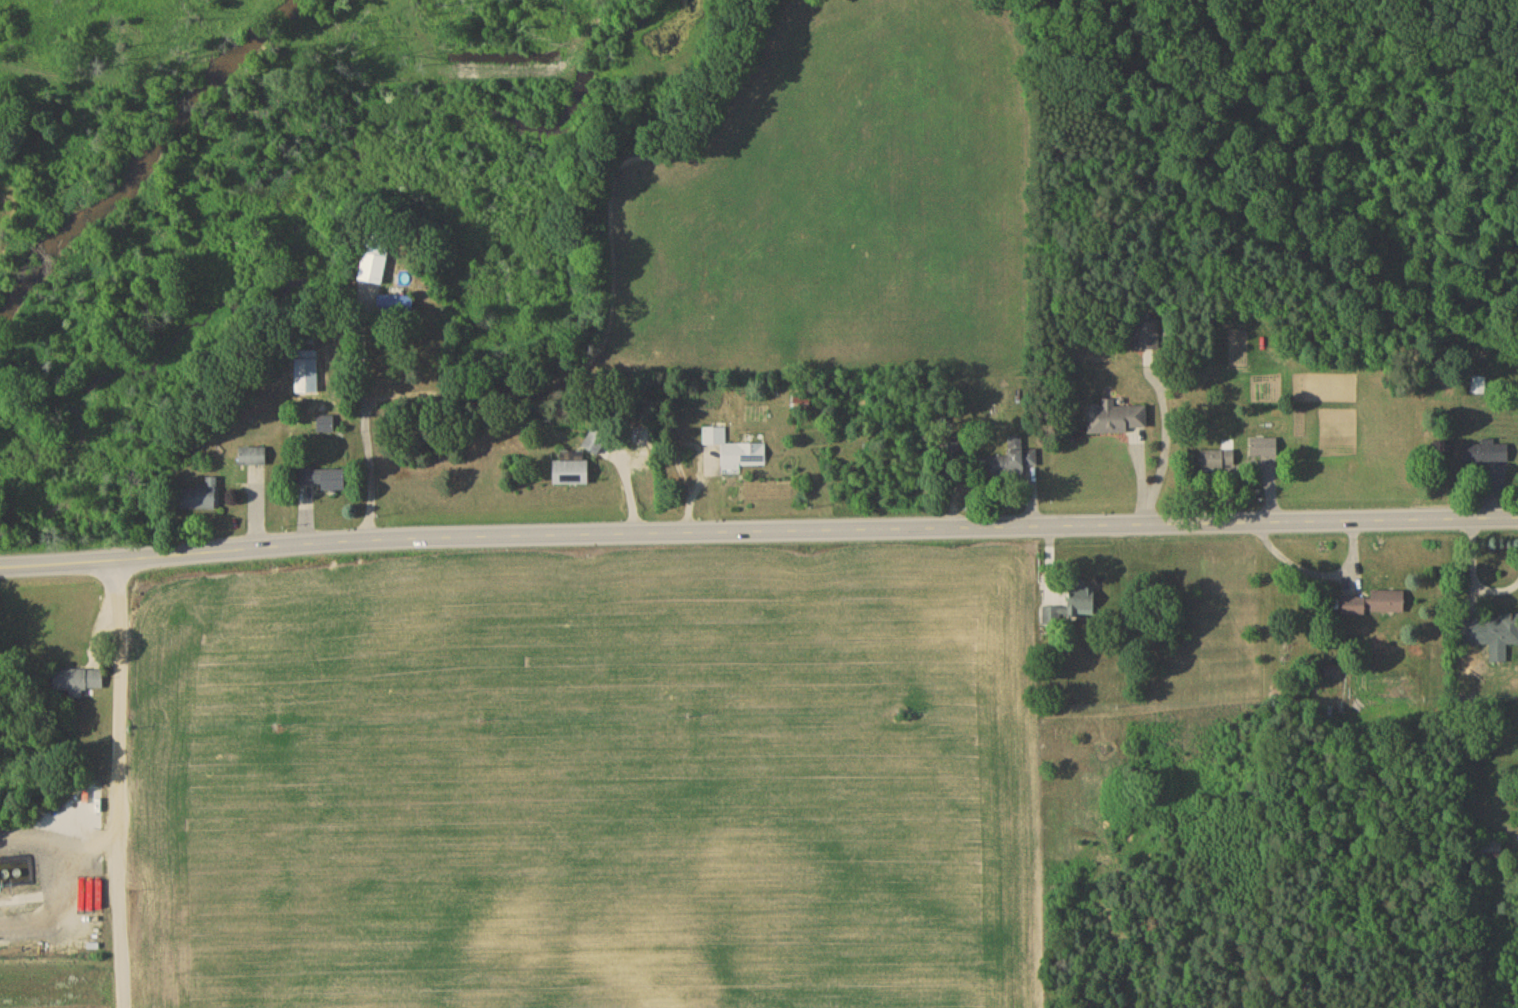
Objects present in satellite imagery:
building: (376, 264)
building: (397, 309)
building: (1146, 338)
building: (307, 374)
building: (801, 406)
building: (1117, 421)
road: (367, 422)
building: (326, 427)
building: (597, 442)
building: (1264, 451)
building: (735, 455)
building: (1488, 456)
building: (253, 459)
building: (1218, 463)
building: (1014, 464)
building: (572, 475)
building: (325, 482)
building: (202, 499)
road: (758, 531)
road: (1317, 573)
road: (1472, 574)
building: (1086, 599)
building: (1389, 604)
building: (1356, 608)
building: (1490, 632)
building: (78, 684)
building: (1467, 700)
road: (117, 784)
building: (1491, 854)

